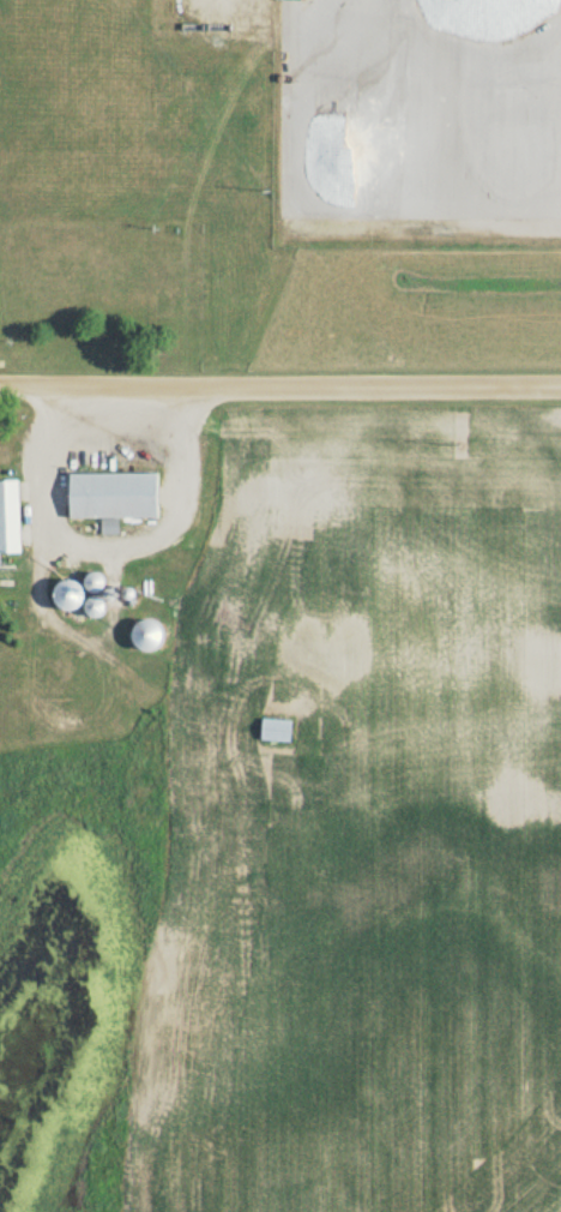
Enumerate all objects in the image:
building: (505, 196)
road: (280, 385)
building: (104, 496)
building: (7, 518)
road: (103, 545)
building: (89, 583)
building: (141, 635)
building: (270, 732)

